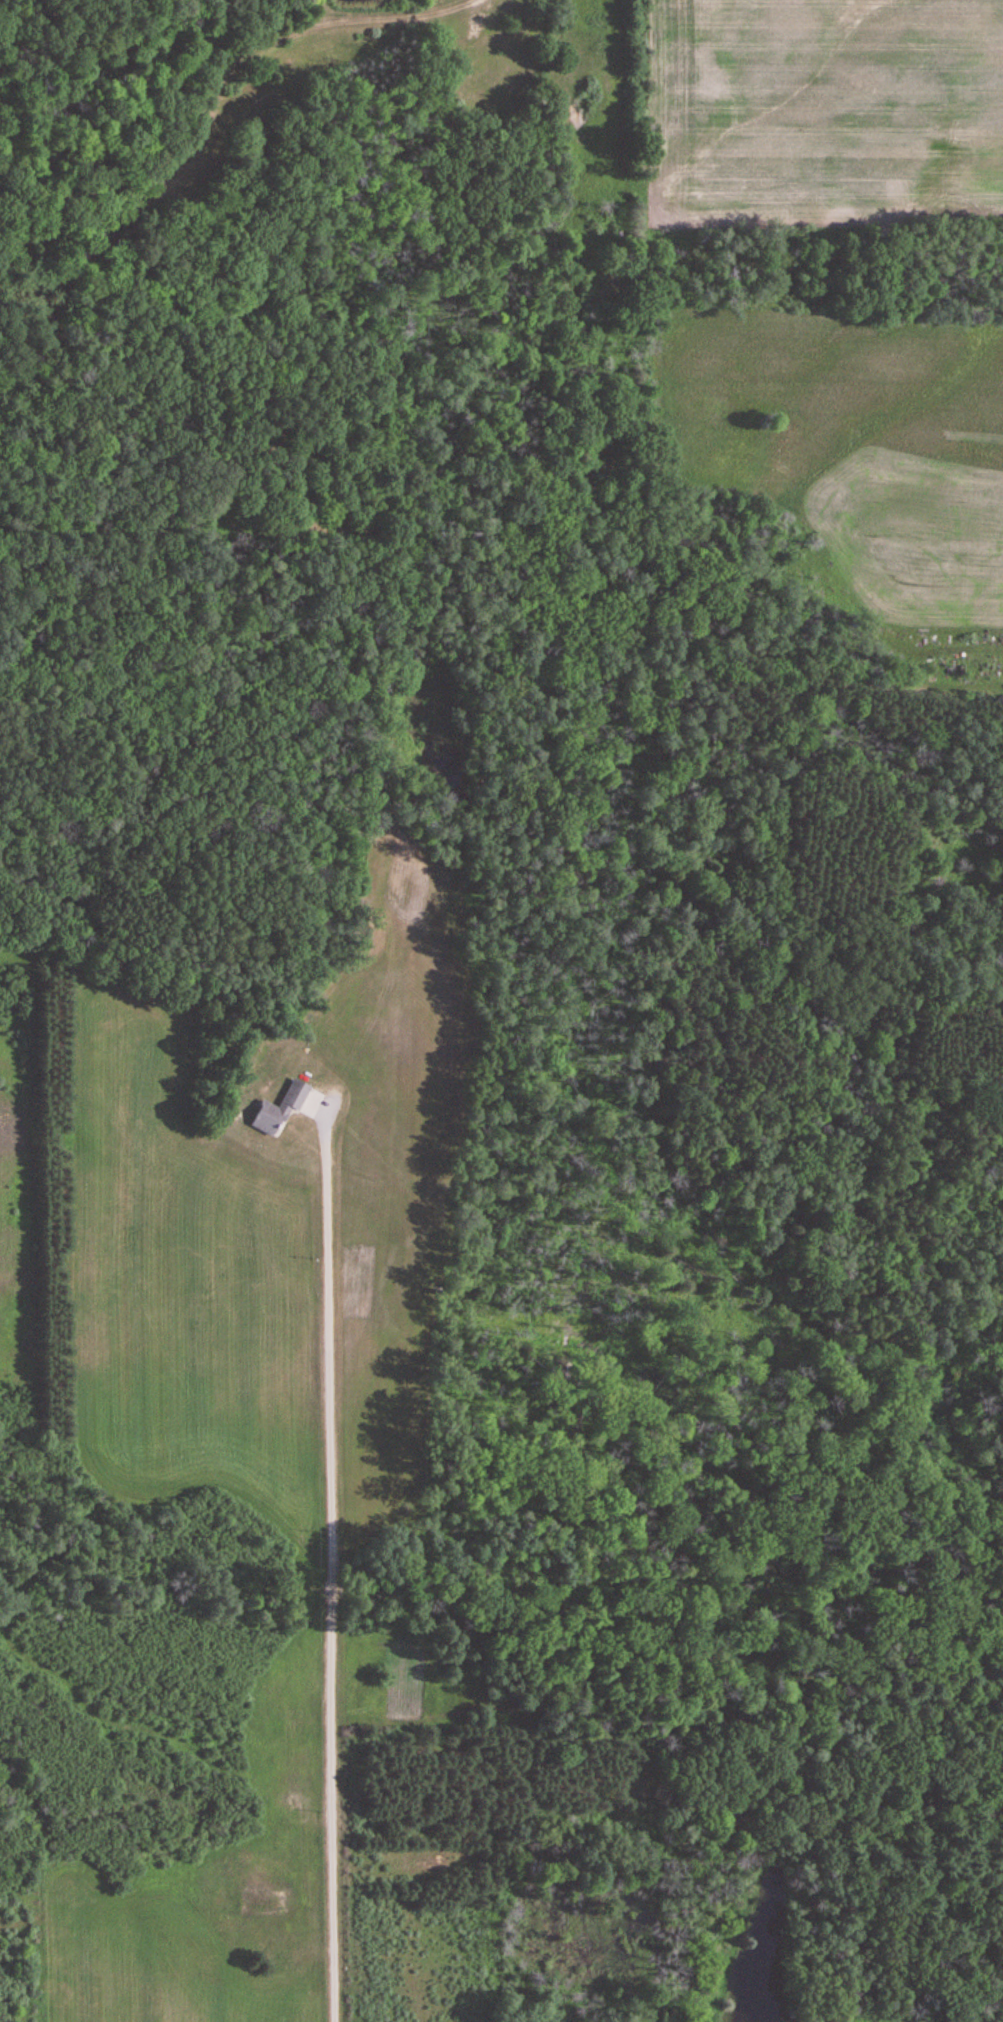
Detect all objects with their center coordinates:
building: (280, 1110)
road: (314, 1568)

